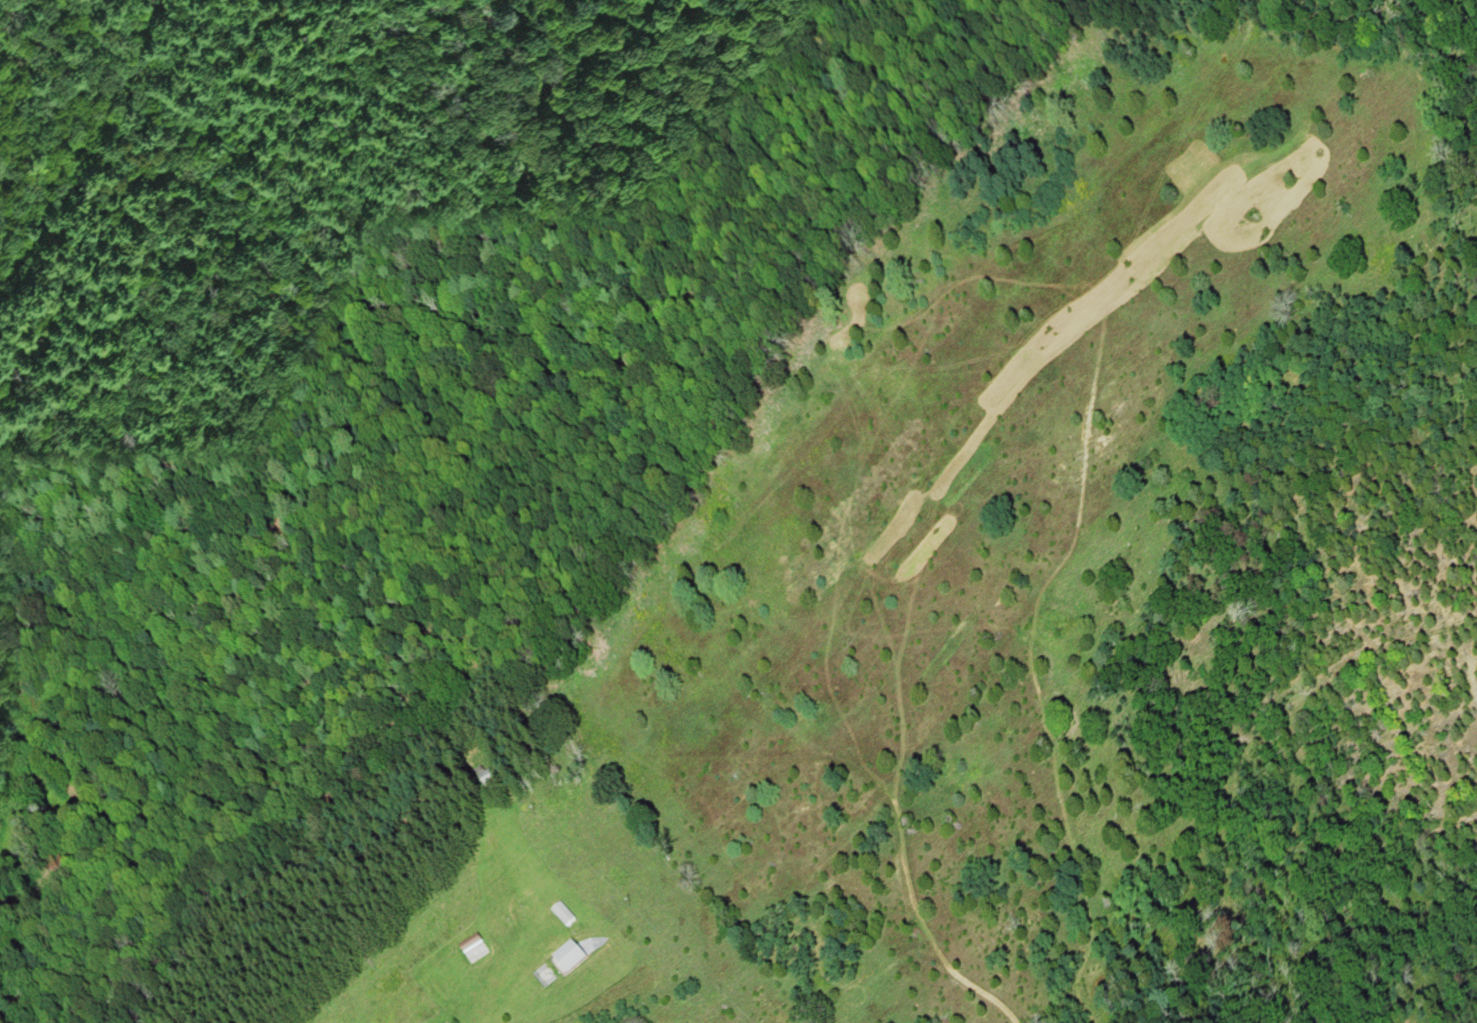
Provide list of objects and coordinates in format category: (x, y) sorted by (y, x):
building: (488, 778)
building: (567, 914)
building: (475, 948)
building: (575, 958)
road: (474, 1017)

